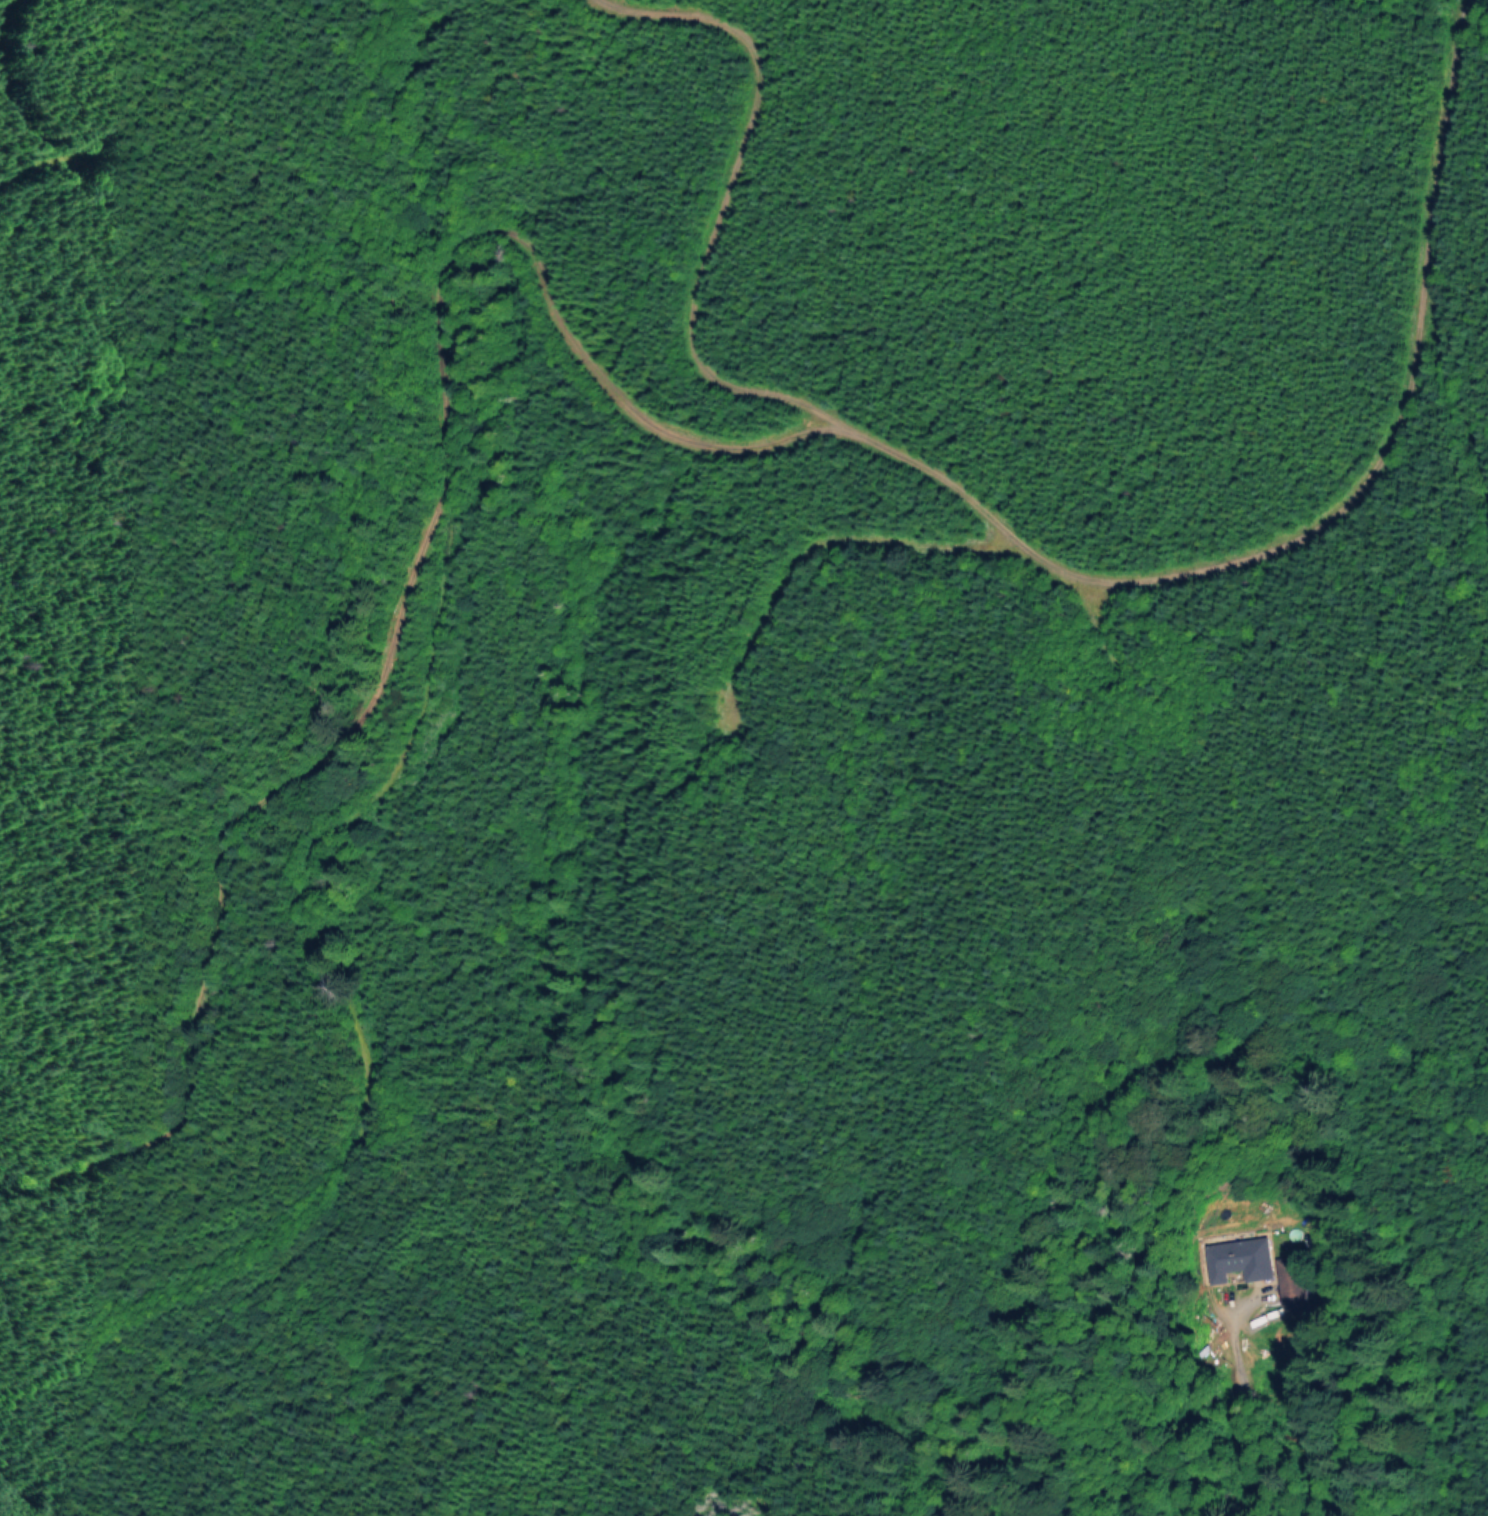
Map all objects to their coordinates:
road: (1244, 1429)

